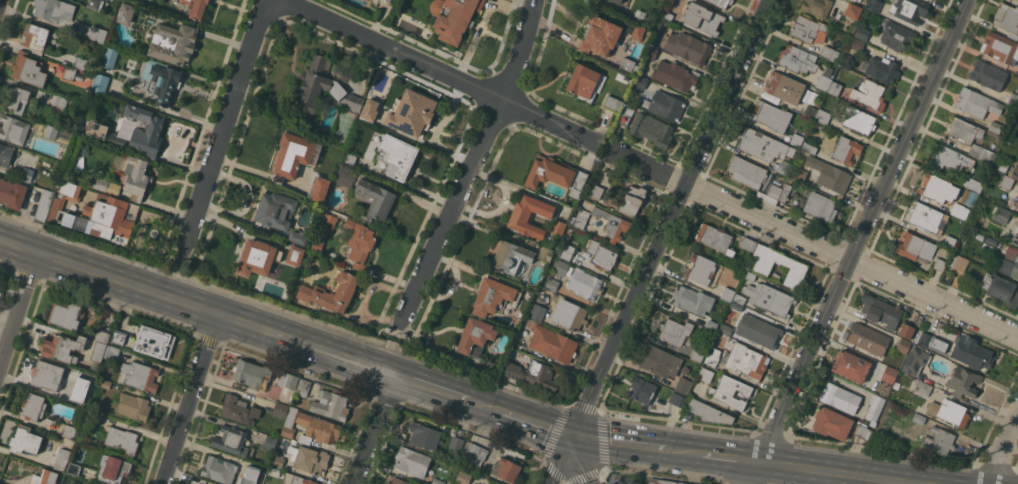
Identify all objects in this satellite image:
building: (853, 0)
building: (858, 0)
building: (617, 1)
road: (0, 2)
building: (721, 2)
building: (93, 4)
building: (874, 5)
building: (817, 7)
building: (198, 9)
building: (54, 10)
building: (853, 10)
building: (909, 10)
building: (125, 13)
building: (668, 15)
building: (454, 17)
building: (702, 17)
building: (1007, 19)
building: (666, 21)
building: (806, 28)
building: (637, 32)
building: (92, 33)
building: (863, 33)
building: (598, 35)
building: (896, 35)
building: (35, 36)
building: (173, 42)
building: (857, 44)
building: (687, 47)
building: (1000, 47)
building: (652, 52)
building: (829, 53)
building: (110, 57)
building: (798, 59)
building: (79, 62)
building: (629, 65)
building: (28, 69)
building: (883, 69)
road: (438, 70)
building: (69, 73)
building: (1017, 74)
building: (676, 75)
building: (988, 75)
building: (163, 81)
building: (825, 81)
building: (583, 82)
building: (101, 83)
building: (638, 83)
building: (315, 87)
building: (784, 87)
building: (834, 88)
building: (869, 94)
building: (15, 98)
building: (1012, 99)
building: (71, 101)
building: (59, 102)
building: (352, 102)
building: (613, 103)
building: (976, 103)
building: (665, 105)
building: (369, 106)
building: (811, 112)
building: (413, 116)
building: (772, 116)
building: (823, 116)
building: (624, 119)
building: (859, 121)
road: (227, 122)
building: (995, 126)
building: (145, 128)
building: (13, 129)
building: (652, 129)
building: (965, 130)
building: (50, 132)
building: (102, 133)
building: (796, 139)
building: (760, 144)
building: (810, 148)
building: (846, 149)
building: (983, 152)
building: (6, 154)
building: (294, 156)
building: (396, 156)
building: (349, 158)
building: (949, 158)
road: (474, 161)
building: (1001, 164)
building: (785, 167)
building: (747, 172)
building: (1013, 172)
building: (28, 174)
building: (556, 174)
building: (799, 174)
building: (830, 175)
building: (135, 177)
building: (345, 177)
building: (86, 181)
building: (1006, 182)
building: (973, 184)
building: (107, 186)
building: (318, 188)
building: (938, 188)
building: (596, 191)
building: (774, 191)
building: (784, 192)
building: (12, 193)
building: (374, 199)
building: (632, 200)
building: (44, 204)
building: (964, 204)
building: (819, 205)
building: (70, 206)
building: (274, 211)
building: (96, 214)
building: (1001, 214)
building: (529, 216)
building: (580, 218)
building: (927, 218)
building: (326, 221)
building: (612, 224)
building: (558, 228)
building: (298, 237)
building: (715, 238)
building: (1014, 239)
building: (950, 240)
road: (659, 241)
building: (991, 241)
building: (360, 242)
road: (855, 242)
building: (748, 244)
building: (316, 245)
road: (817, 248)
building: (915, 248)
building: (567, 251)
building: (546, 253)
building: (601, 254)
building: (295, 255)
building: (257, 257)
building: (512, 257)
building: (941, 260)
building: (958, 262)
building: (797, 266)
building: (561, 267)
building: (1009, 267)
building: (700, 268)
building: (749, 275)
building: (775, 276)
building: (552, 283)
building: (585, 284)
building: (1001, 289)
building: (332, 292)
building: (727, 294)
building: (496, 296)
building: (769, 298)
building: (687, 299)
building: (739, 299)
building: (736, 306)
road: (195, 307)
building: (879, 311)
road: (19, 313)
building: (67, 313)
building: (570, 314)
building: (112, 317)
building: (918, 320)
building: (711, 324)
building: (726, 329)
building: (906, 330)
building: (675, 331)
building: (758, 331)
building: (102, 335)
building: (475, 336)
building: (118, 337)
building: (867, 338)
building: (925, 339)
building: (154, 342)
building: (553, 343)
building: (903, 345)
building: (62, 348)
building: (112, 352)
building: (971, 352)
building: (98, 355)
building: (697, 355)
building: (713, 356)
building: (659, 361)
building: (745, 361)
building: (916, 361)
building: (851, 366)
building: (493, 368)
building: (685, 370)
building: (47, 374)
building: (533, 374)
building: (706, 374)
building: (890, 374)
building: (140, 376)
building: (251, 376)
building: (963, 381)
building: (104, 383)
building: (287, 385)
building: (683, 385)
building: (896, 385)
building: (303, 387)
road: (428, 387)
building: (924, 388)
building: (78, 389)
building: (643, 390)
building: (731, 392)
building: (840, 398)
building: (677, 399)
road: (192, 400)
building: (331, 404)
building: (33, 406)
road: (484, 406)
building: (134, 407)
building: (875, 408)
building: (239, 410)
building: (280, 410)
building: (950, 411)
building: (709, 412)
building: (96, 416)
building: (919, 418)
building: (289, 423)
building: (832, 423)
road: (538, 425)
building: (319, 427)
road: (376, 430)
building: (69, 431)
building: (862, 431)
building: (424, 435)
building: (301, 438)
traffic signals: (575, 438)
building: (122, 439)
building: (938, 439)
building: (25, 440)
building: (231, 440)
building: (270, 442)
building: (457, 442)
road: (620, 444)
road: (1003, 449)
road: (684, 452)
building: (474, 454)
building: (309, 458)
road: (727, 458)
building: (62, 459)
building: (277, 460)
building: (412, 461)
road: (587, 461)
building: (73, 468)
building: (114, 469)
building: (219, 469)
building: (507, 469)
building: (259, 470)
building: (274, 471)
road: (832, 472)
building: (45, 477)
building: (463, 477)
building: (296, 479)
building: (626, 480)
building: (398, 481)
building: (438, 481)
building: (653, 482)
building: (669, 482)
building: (194, 483)
building: (196, 483)
building: (482, 483)
building: (687, 483)

